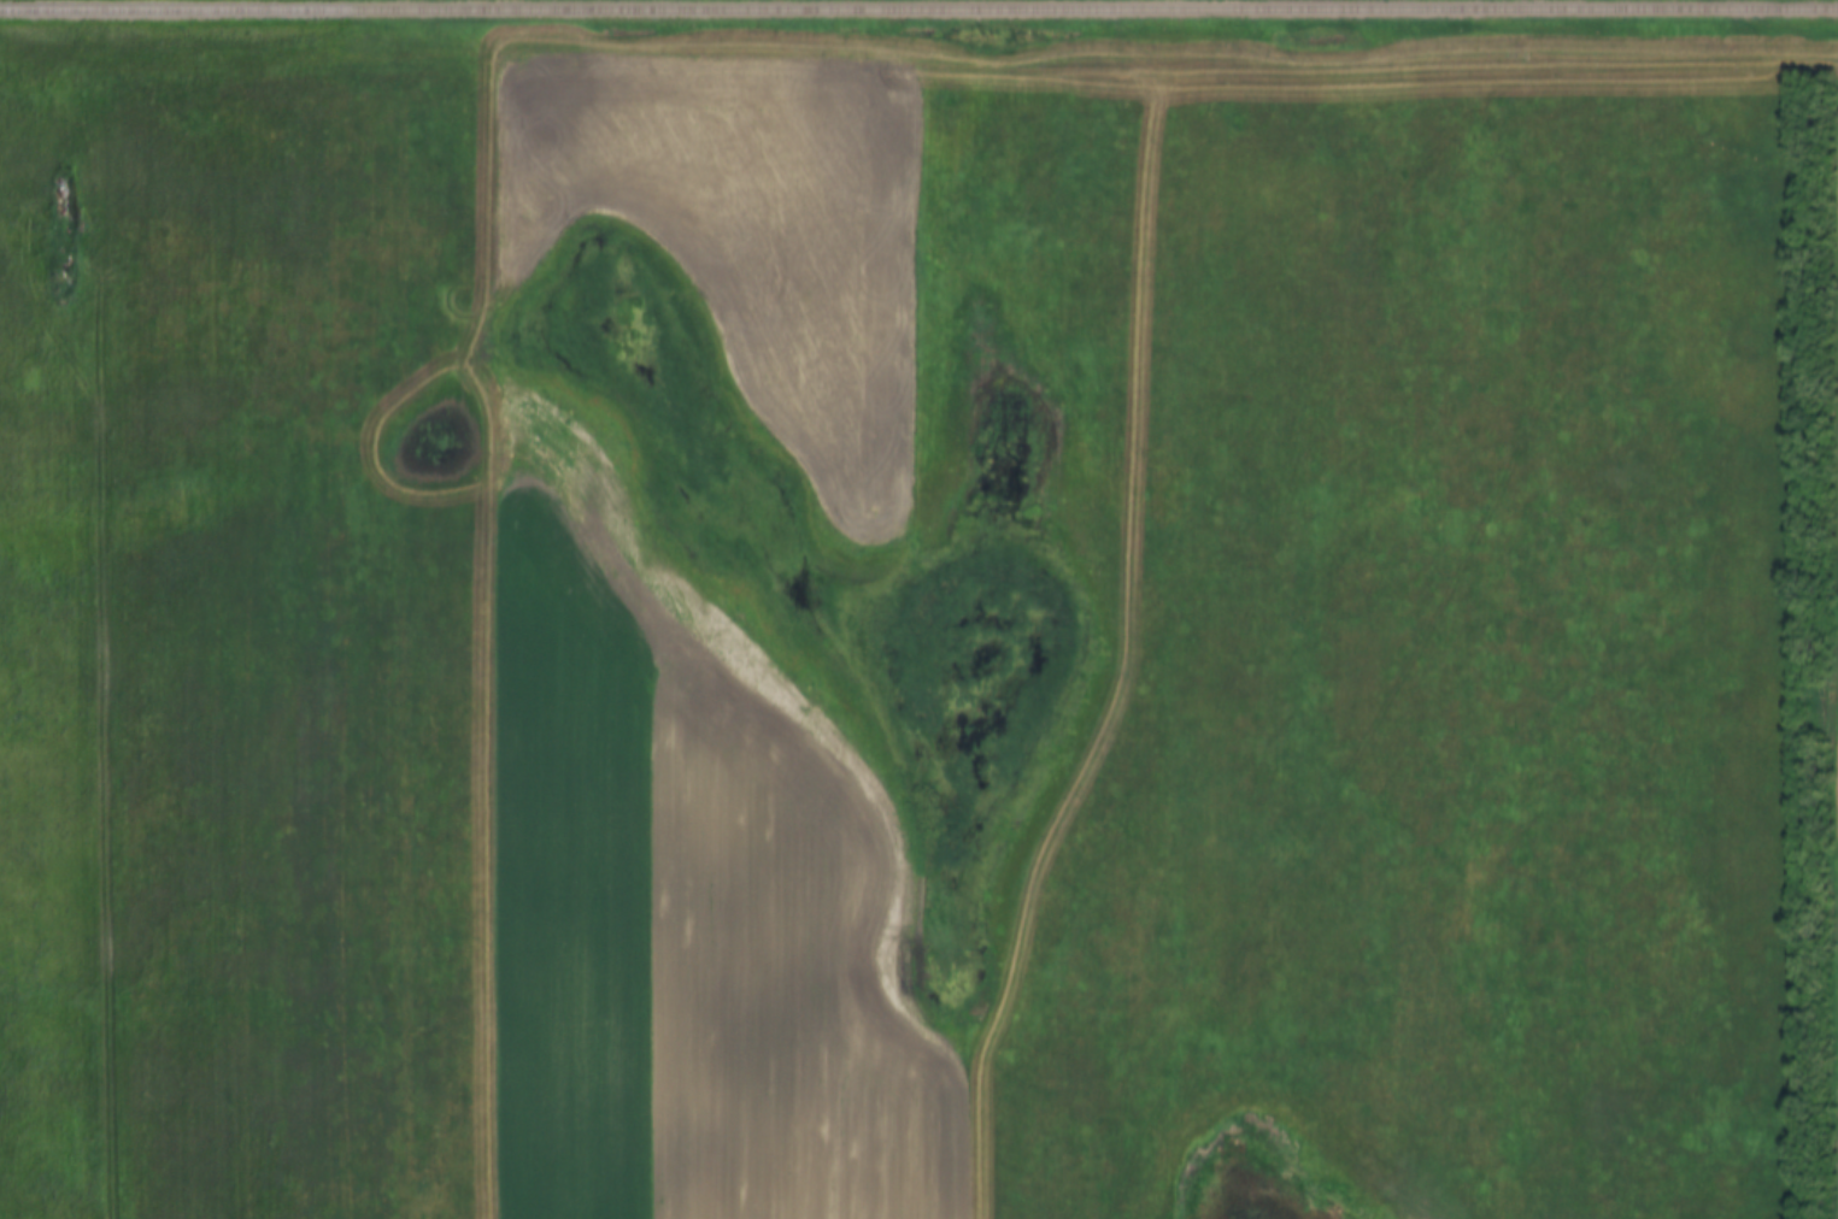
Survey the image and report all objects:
railway: (918, 10)

